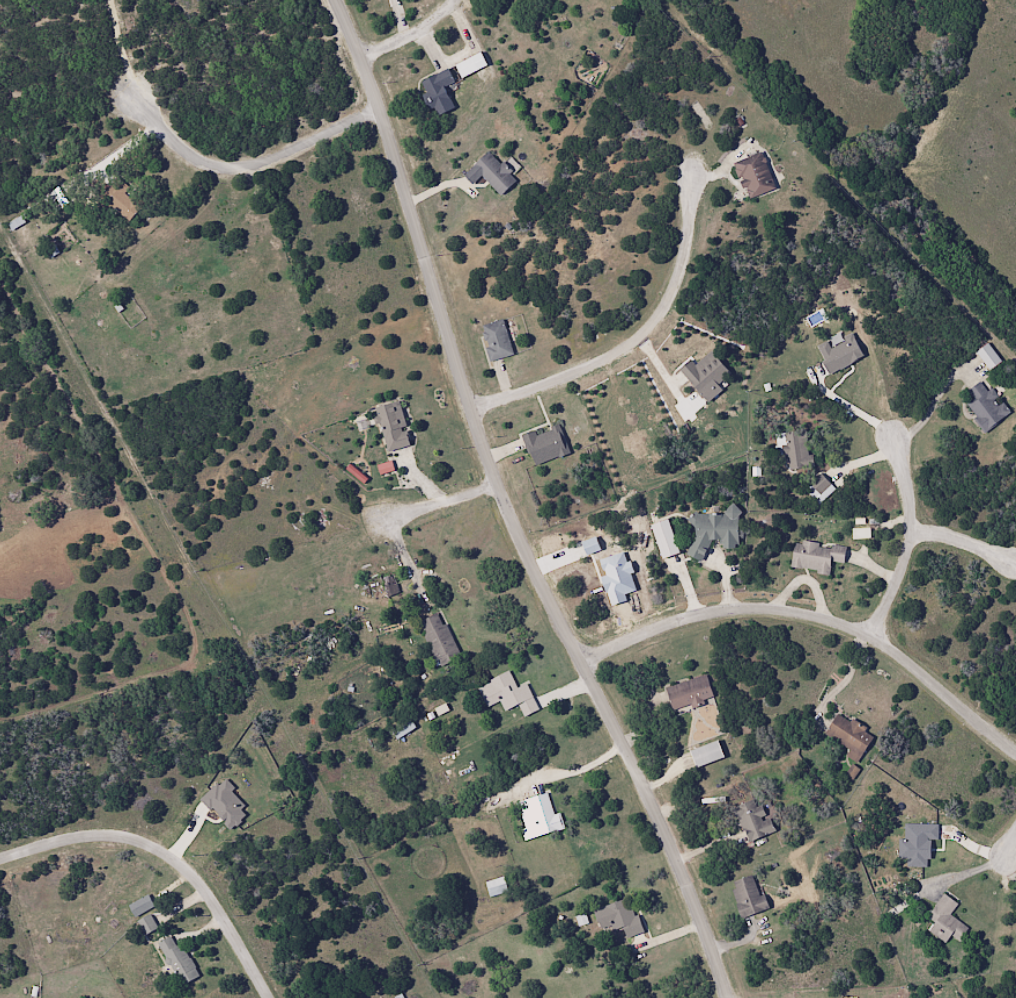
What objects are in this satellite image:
road: (410, 34)
road: (127, 52)
building: (472, 73)
building: (443, 99)
road: (257, 160)
building: (499, 180)
building: (764, 181)
building: (125, 186)
road: (635, 339)
building: (503, 344)
building: (987, 357)
building: (848, 360)
building: (714, 382)
building: (985, 406)
building: (401, 428)
building: (796, 449)
building: (552, 451)
road: (442, 502)
road: (508, 508)
building: (868, 537)
road: (961, 539)
building: (722, 540)
road: (901, 541)
building: (672, 545)
building: (822, 562)
building: (389, 586)
road: (816, 611)
building: (438, 640)
building: (688, 693)
building: (507, 695)
building: (402, 729)
building: (857, 741)
building: (695, 758)
building: (540, 816)
building: (753, 819)
road: (1008, 851)
road: (170, 854)
building: (497, 893)
building: (747, 896)
building: (620, 917)
building: (944, 920)
building: (146, 923)
building: (177, 960)

